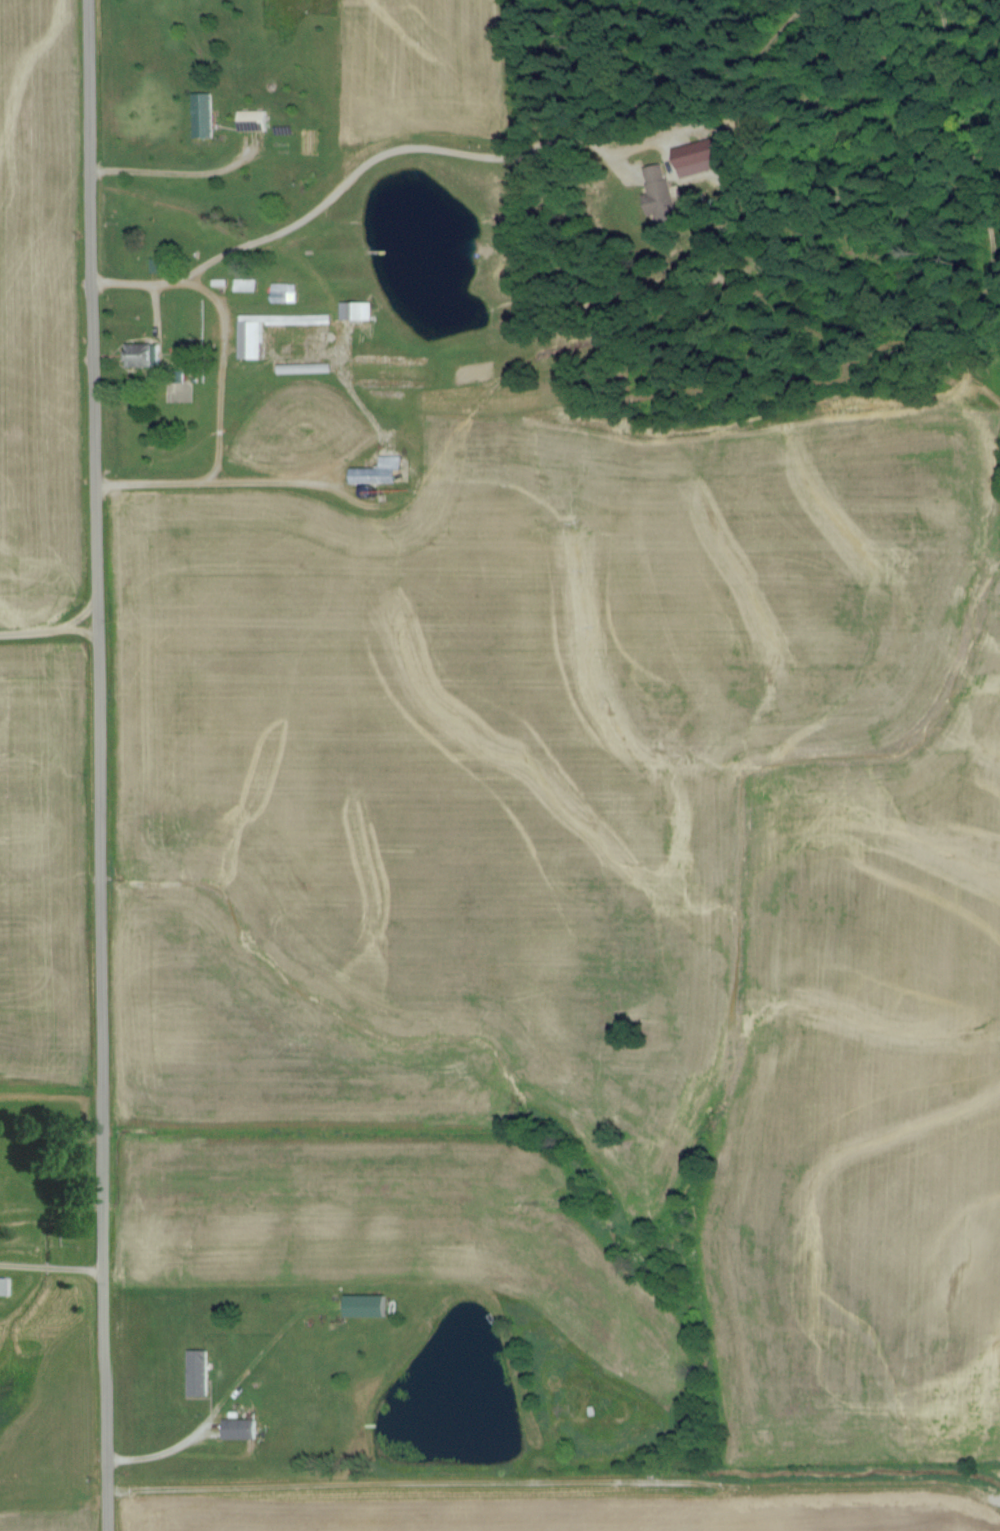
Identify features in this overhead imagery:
building: (201, 115)
building: (250, 121)
building: (695, 162)
road: (170, 177)
building: (657, 193)
building: (283, 292)
building: (354, 310)
building: (249, 335)
building: (138, 355)
building: (301, 368)
road: (221, 386)
building: (376, 472)
road: (48, 634)
road: (96, 765)
road: (51, 1270)
building: (2, 1287)
building: (362, 1306)
building: (195, 1373)
building: (238, 1429)
road: (163, 1456)

